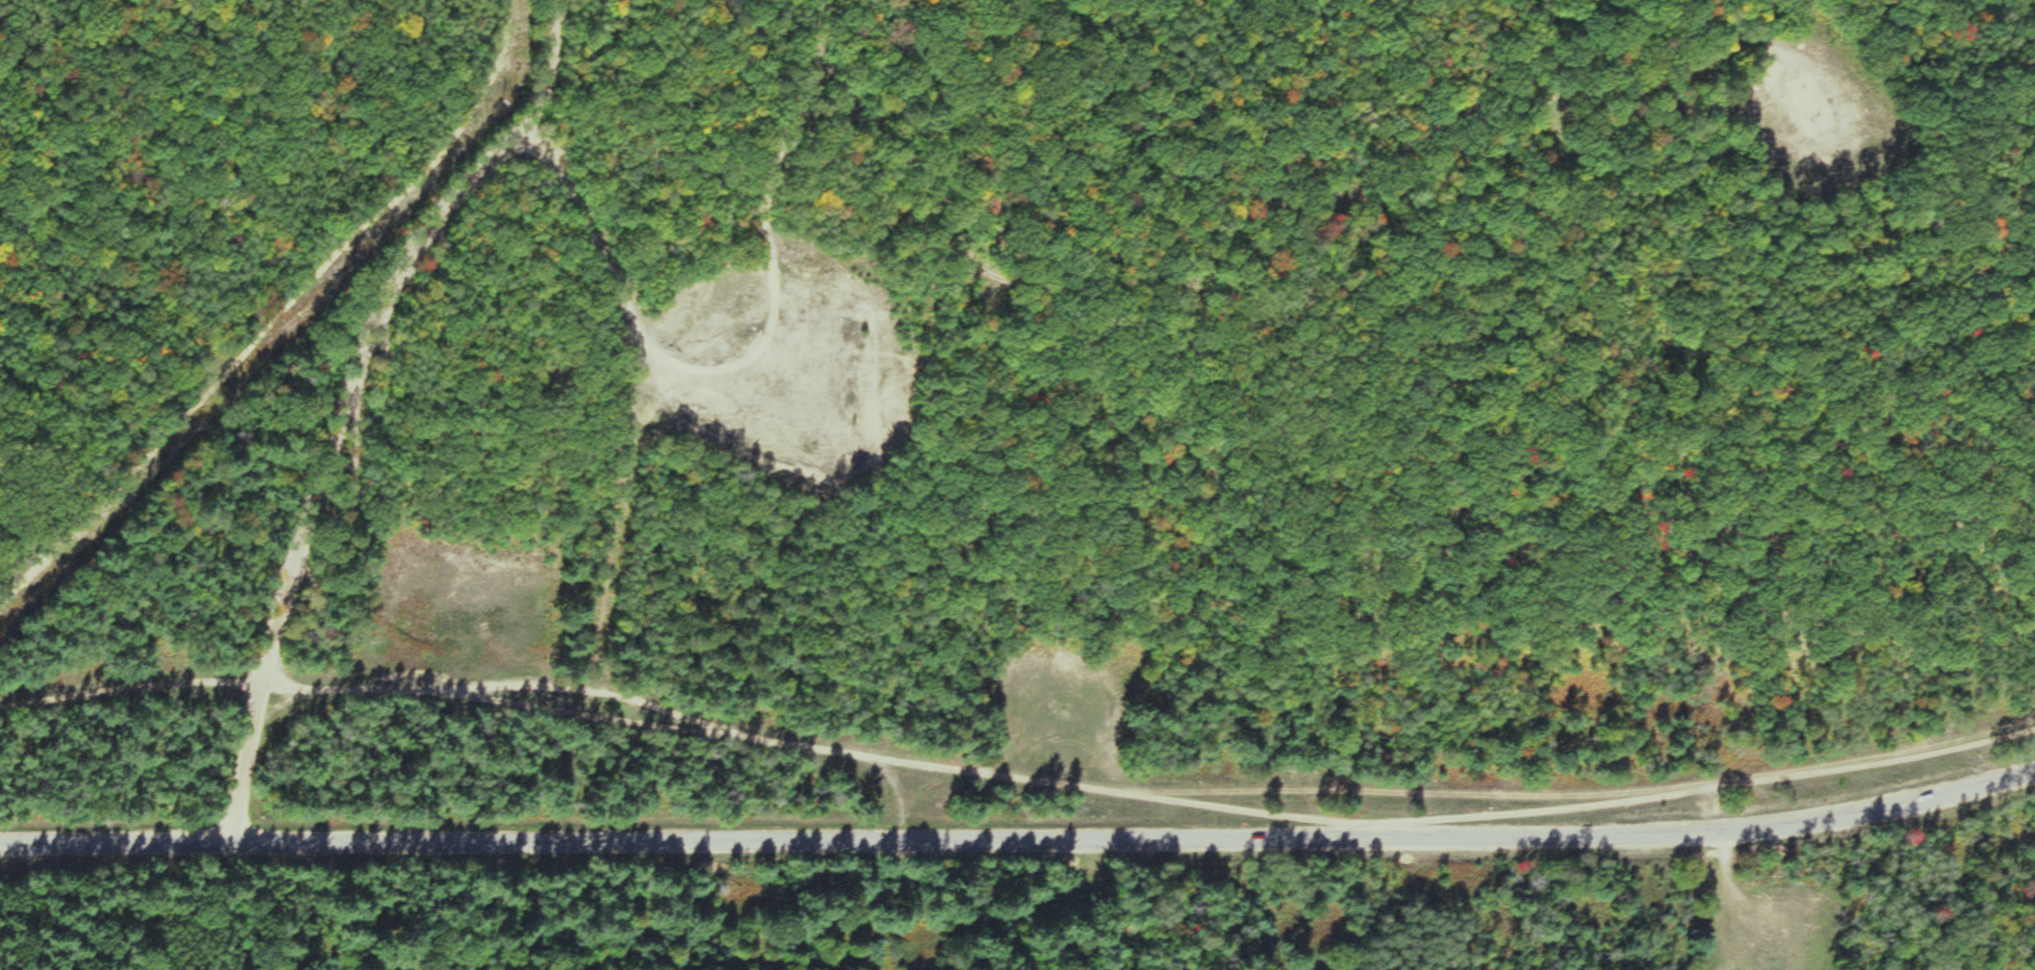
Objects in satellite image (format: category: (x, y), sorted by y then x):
road: (658, 78)
petroleum well: (1817, 112)
building: (858, 331)
road: (752, 350)
building: (860, 395)
road: (351, 398)
building: (816, 445)
road: (133, 691)
road: (1151, 797)
road: (1577, 841)
road: (556, 842)

